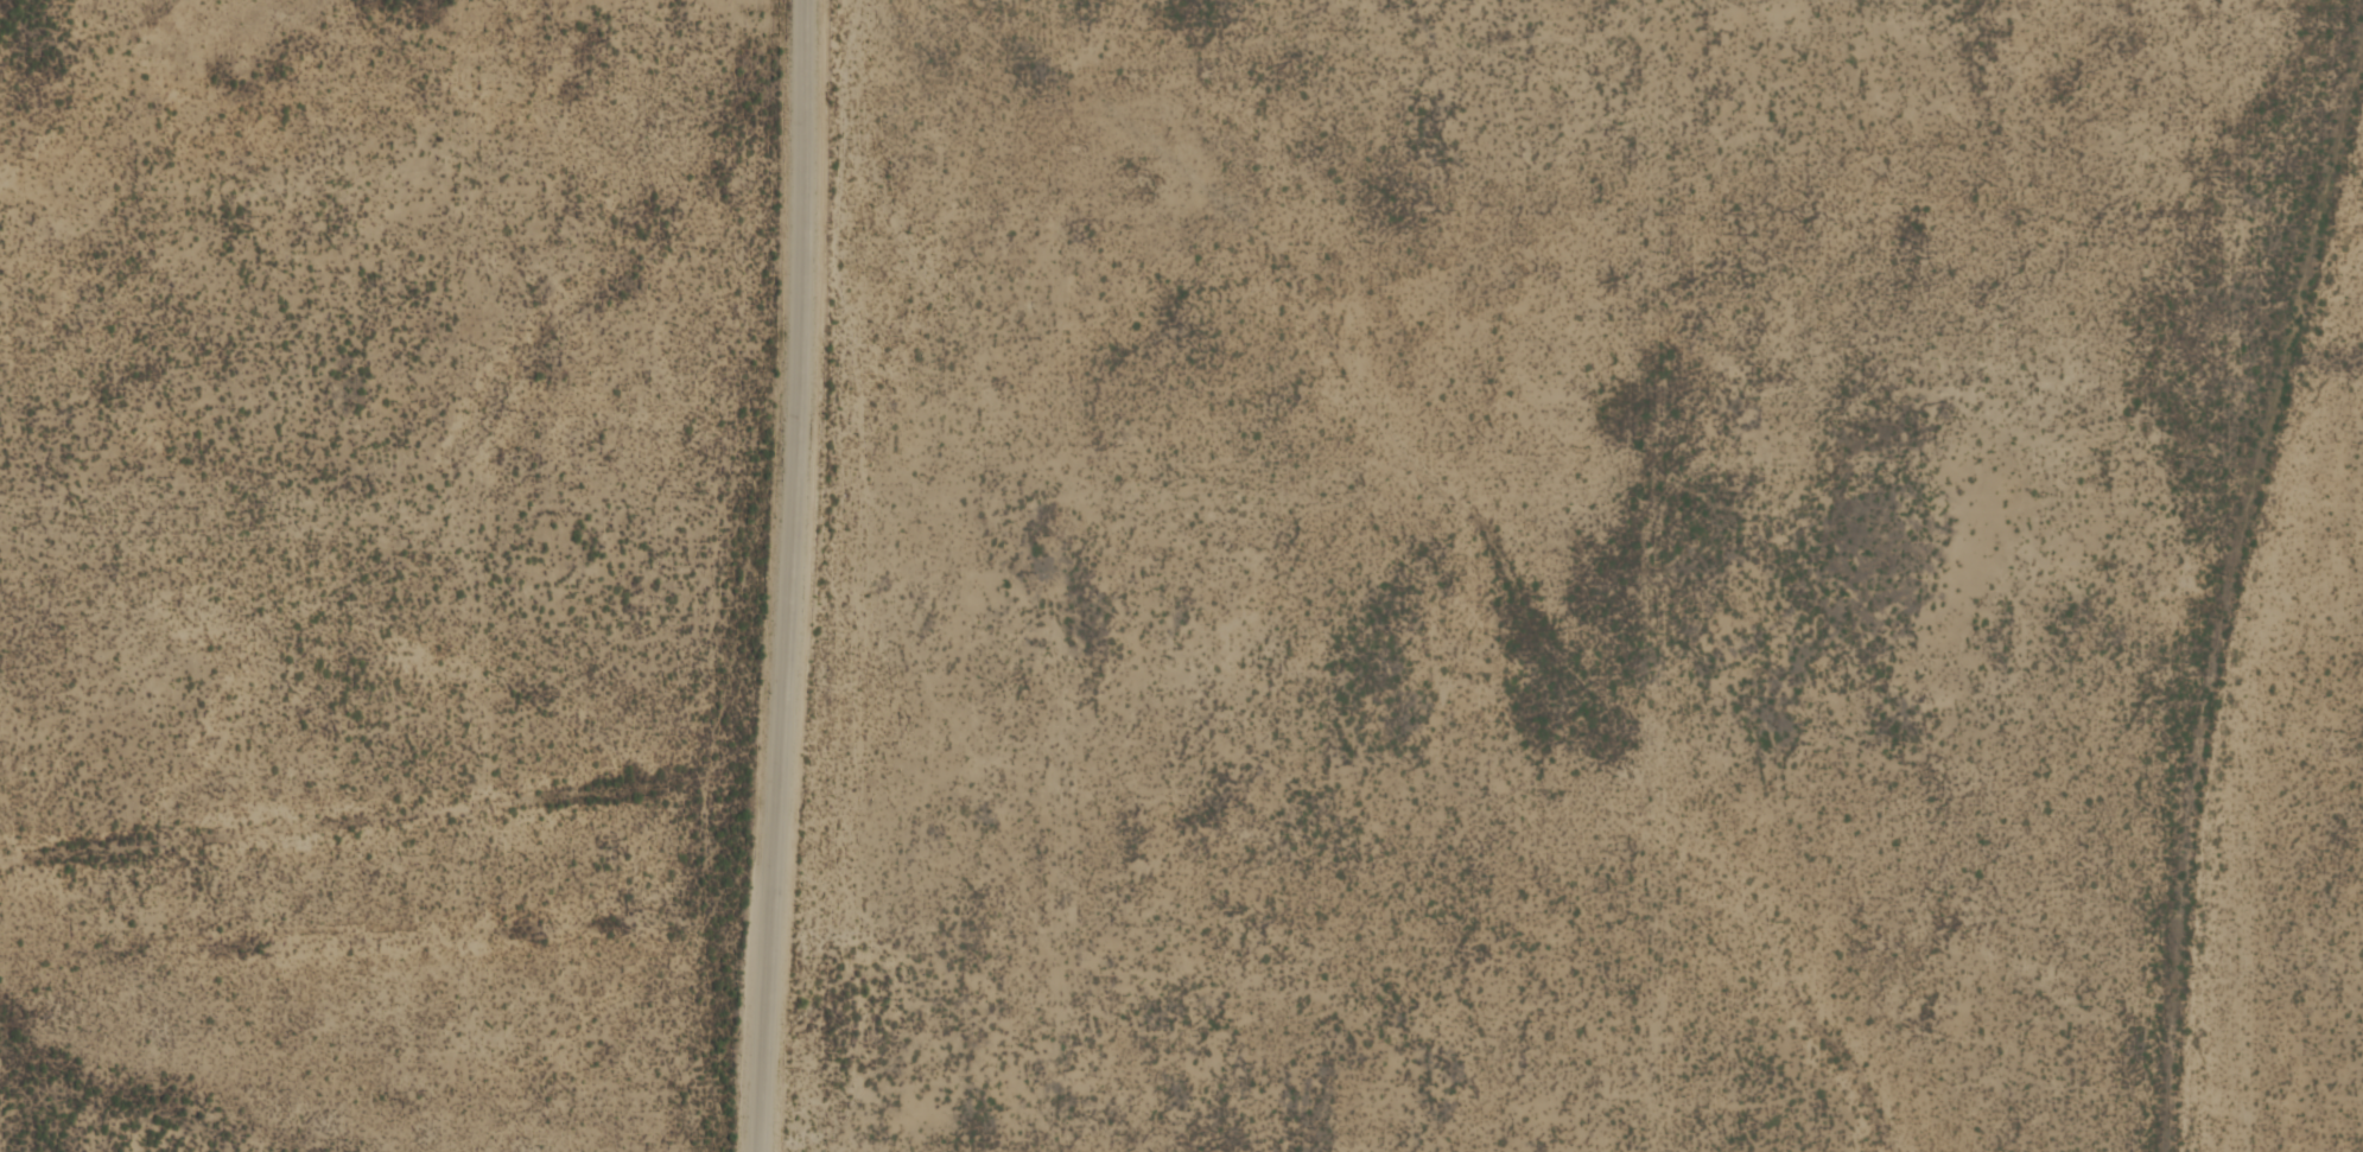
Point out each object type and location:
road: (800, 577)

